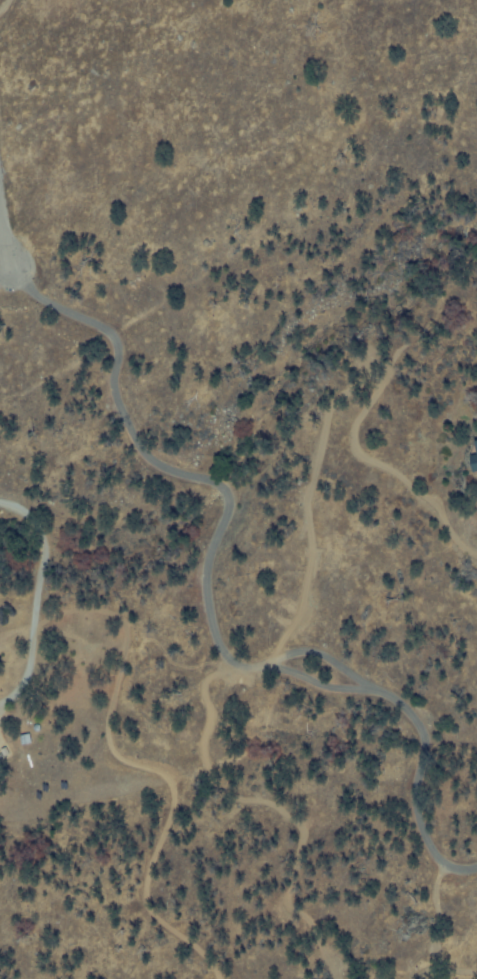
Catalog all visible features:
road: (3, 245)
building: (472, 460)
building: (24, 737)

